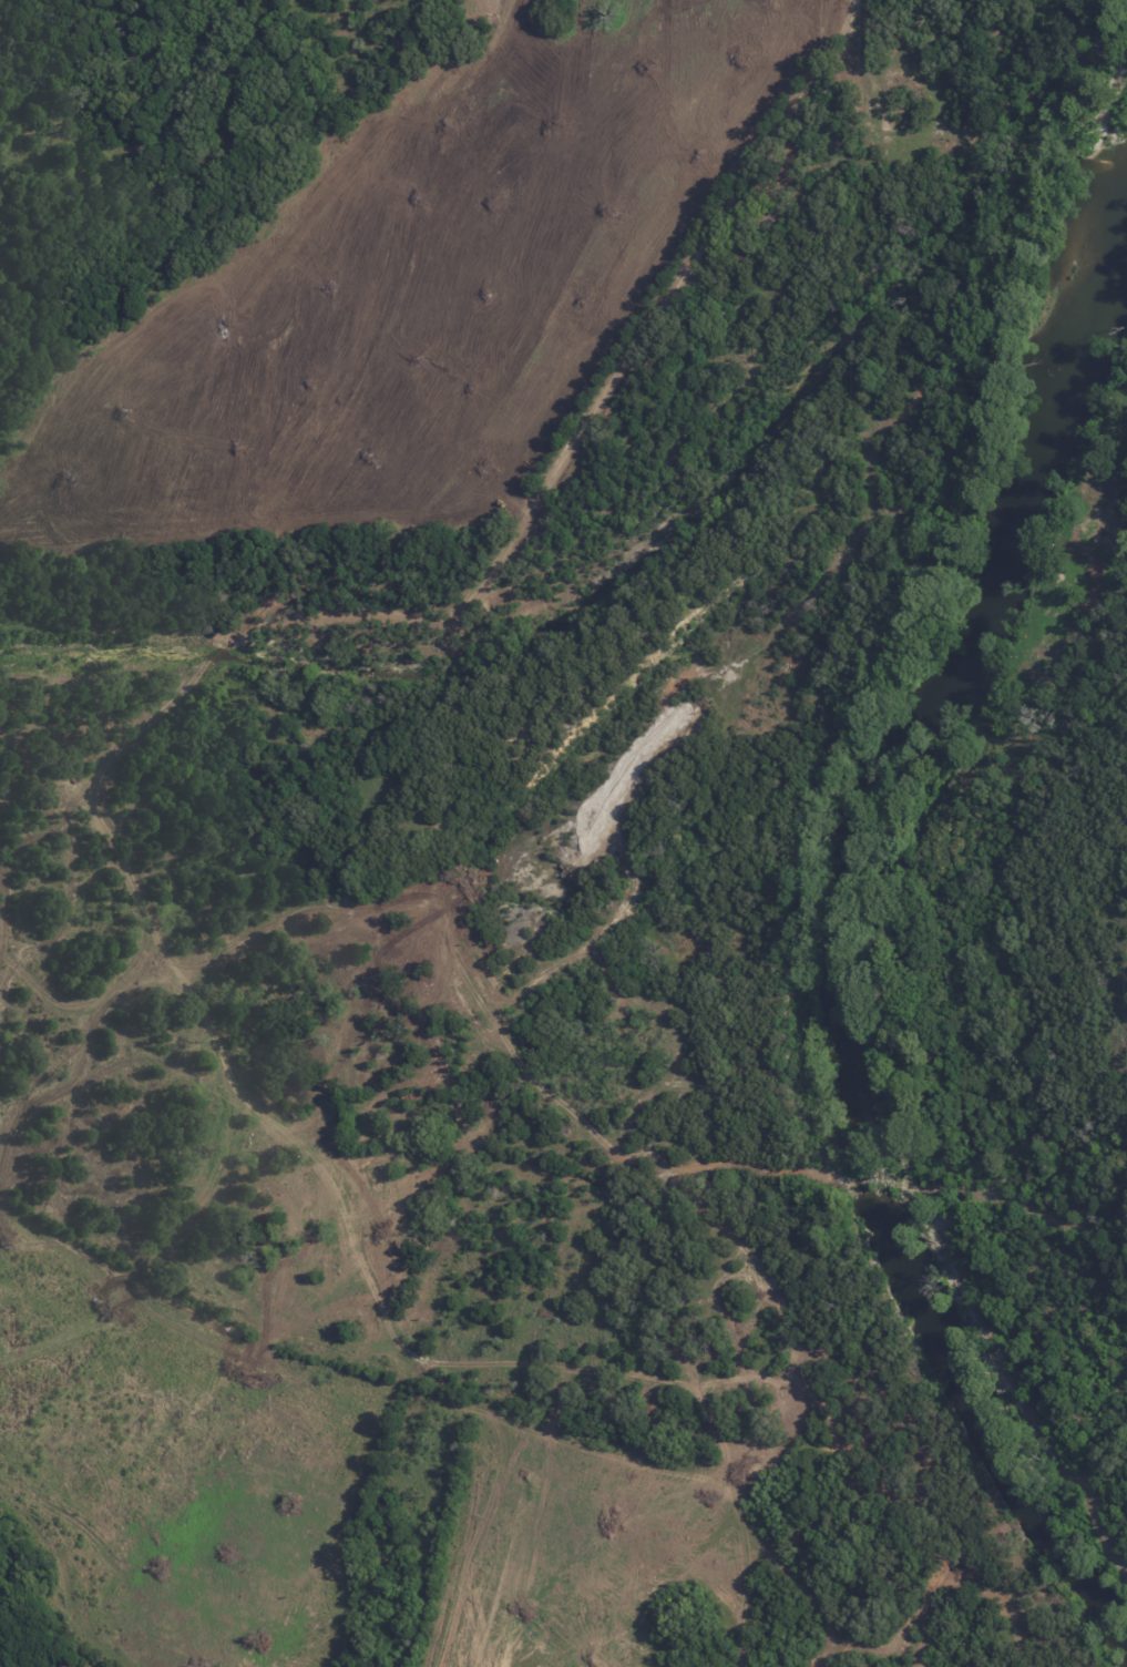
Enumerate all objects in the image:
building: (290, 1082)
building: (423, 1097)

